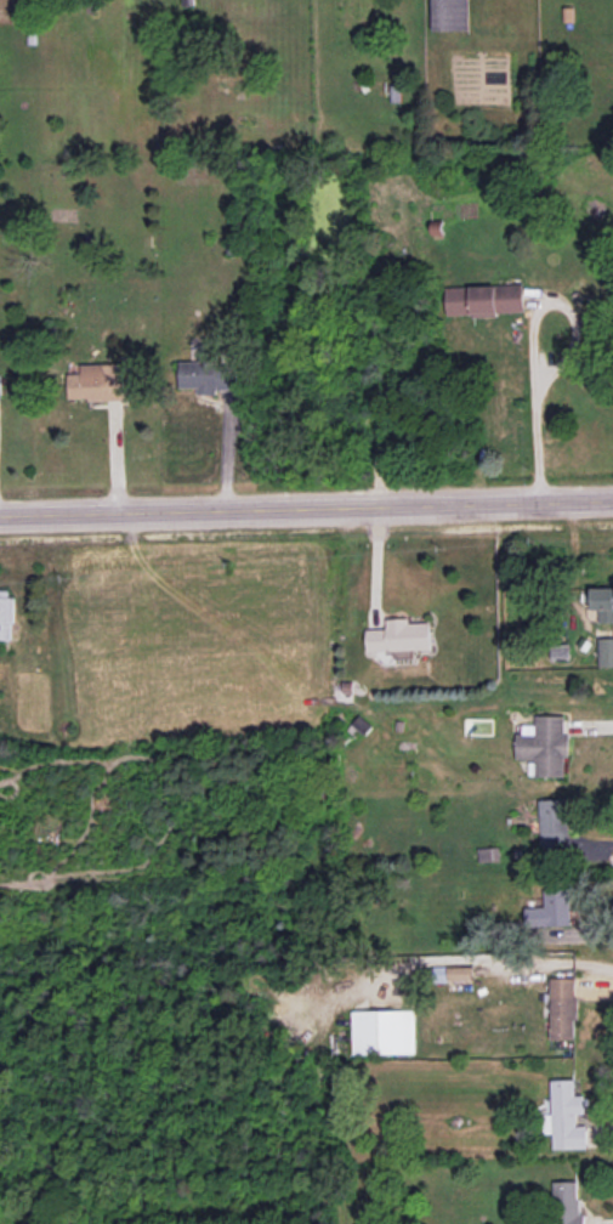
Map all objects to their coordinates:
building: (449, 15)
building: (484, 300)
building: (208, 373)
building: (97, 382)
building: (0, 389)
road: (546, 395)
road: (306, 506)
building: (602, 602)
building: (6, 614)
building: (399, 636)
building: (605, 651)
building: (544, 746)
building: (554, 824)
building: (550, 909)
road: (513, 958)
building: (460, 973)
building: (439, 974)
building: (563, 1008)
building: (384, 1032)
building: (567, 1116)
building: (566, 1203)

